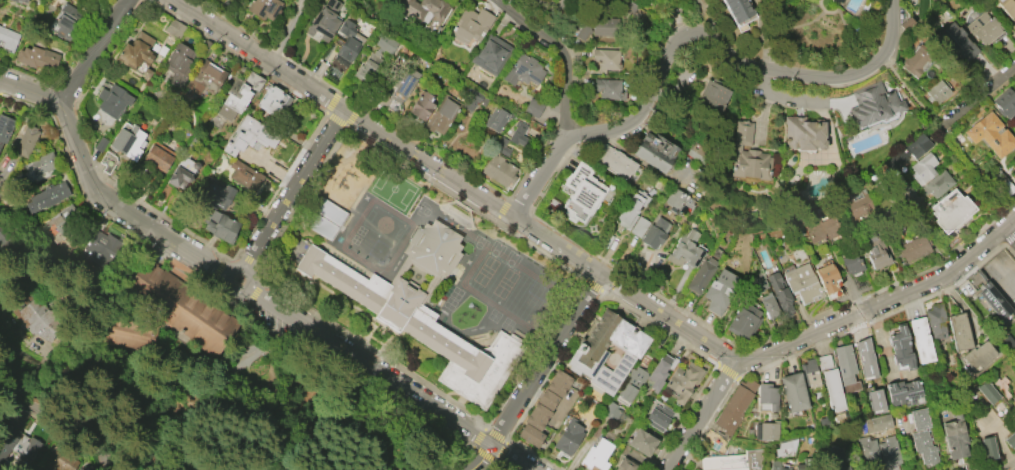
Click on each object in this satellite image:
building: (19, 1)
building: (641, 1)
building: (1008, 7)
building: (265, 8)
building: (421, 9)
building: (630, 9)
building: (738, 9)
road: (701, 16)
building: (324, 20)
building: (68, 22)
building: (470, 25)
building: (1013, 27)
building: (984, 28)
building: (174, 29)
road: (290, 30)
building: (582, 30)
road: (687, 34)
building: (8, 39)
building: (349, 40)
building: (957, 41)
road: (564, 48)
road: (93, 51)
building: (135, 51)
building: (490, 54)
building: (37, 57)
building: (180, 58)
building: (606, 58)
building: (916, 61)
building: (367, 66)
building: (524, 70)
building: (206, 78)
building: (405, 83)
building: (609, 89)
building: (937, 92)
road: (982, 92)
building: (238, 94)
building: (713, 94)
building: (112, 100)
building: (272, 100)
building: (473, 100)
building: (1005, 103)
building: (874, 104)
building: (421, 106)
building: (533, 108)
building: (442, 115)
building: (495, 119)
building: (5, 128)
road: (349, 129)
building: (518, 133)
building: (803, 134)
building: (990, 134)
building: (248, 135)
road: (387, 136)
building: (26, 141)
building: (127, 142)
building: (501, 147)
building: (655, 151)
building: (908, 152)
building: (747, 155)
building: (158, 157)
building: (615, 161)
building: (39, 167)
building: (1013, 167)
building: (923, 168)
building: (499, 170)
building: (182, 173)
building: (244, 176)
building: (1001, 183)
building: (938, 184)
road: (288, 193)
building: (582, 193)
building: (904, 193)
building: (216, 195)
building: (46, 197)
building: (675, 200)
building: (855, 203)
building: (630, 209)
building: (951, 210)
building: (62, 223)
building: (220, 226)
building: (639, 227)
building: (822, 230)
building: (654, 233)
road: (1010, 234)
building: (100, 248)
building: (914, 248)
road: (238, 249)
building: (685, 249)
building: (876, 250)
road: (250, 261)
building: (851, 264)
road: (216, 267)
road: (1010, 272)
road: (227, 273)
building: (701, 275)
parking lot: (1000, 275)
building: (828, 277)
building: (802, 282)
building: (756, 283)
road: (592, 284)
road: (217, 286)
road: (254, 291)
building: (719, 291)
road: (612, 293)
building: (779, 294)
road: (853, 299)
building: (995, 302)
building: (181, 306)
building: (768, 306)
building: (420, 308)
building: (35, 316)
building: (743, 321)
building: (935, 321)
building: (958, 330)
road: (810, 336)
road: (835, 339)
building: (920, 339)
building: (900, 346)
building: (604, 350)
building: (976, 355)
building: (865, 358)
road: (545, 359)
building: (846, 368)
road: (726, 371)
building: (656, 372)
building: (810, 374)
building: (681, 380)
building: (556, 382)
building: (830, 383)
building: (630, 386)
building: (986, 391)
building: (765, 392)
building: (795, 393)
building: (908, 395)
building: (1013, 397)
building: (546, 399)
building: (876, 401)
building: (733, 404)
building: (614, 411)
park: (266, 413)
building: (535, 415)
road: (704, 415)
road: (68, 416)
building: (661, 418)
building: (916, 419)
building: (884, 424)
building: (767, 430)
road: (494, 433)
building: (528, 433)
road: (477, 436)
building: (571, 437)
building: (953, 438)
building: (1010, 438)
building: (918, 440)
building: (640, 441)
building: (17, 446)
building: (785, 446)
building: (986, 447)
building: (866, 449)
road: (500, 450)
building: (888, 451)
building: (595, 453)
road: (483, 454)
building: (930, 455)
road: (509, 457)
road: (479, 458)
building: (732, 461)
building: (835, 461)
road: (503, 463)
building: (626, 464)
road: (488, 465)
building: (778, 465)
road: (1010, 466)
building: (802, 467)

